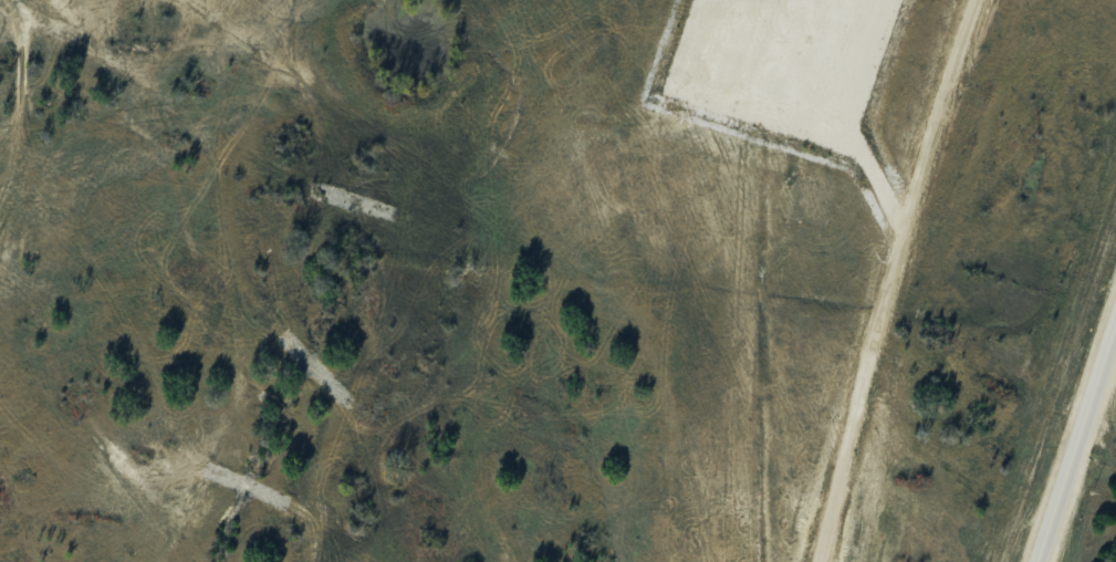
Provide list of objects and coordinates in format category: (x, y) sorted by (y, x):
road: (888, 278)
road: (1076, 441)

